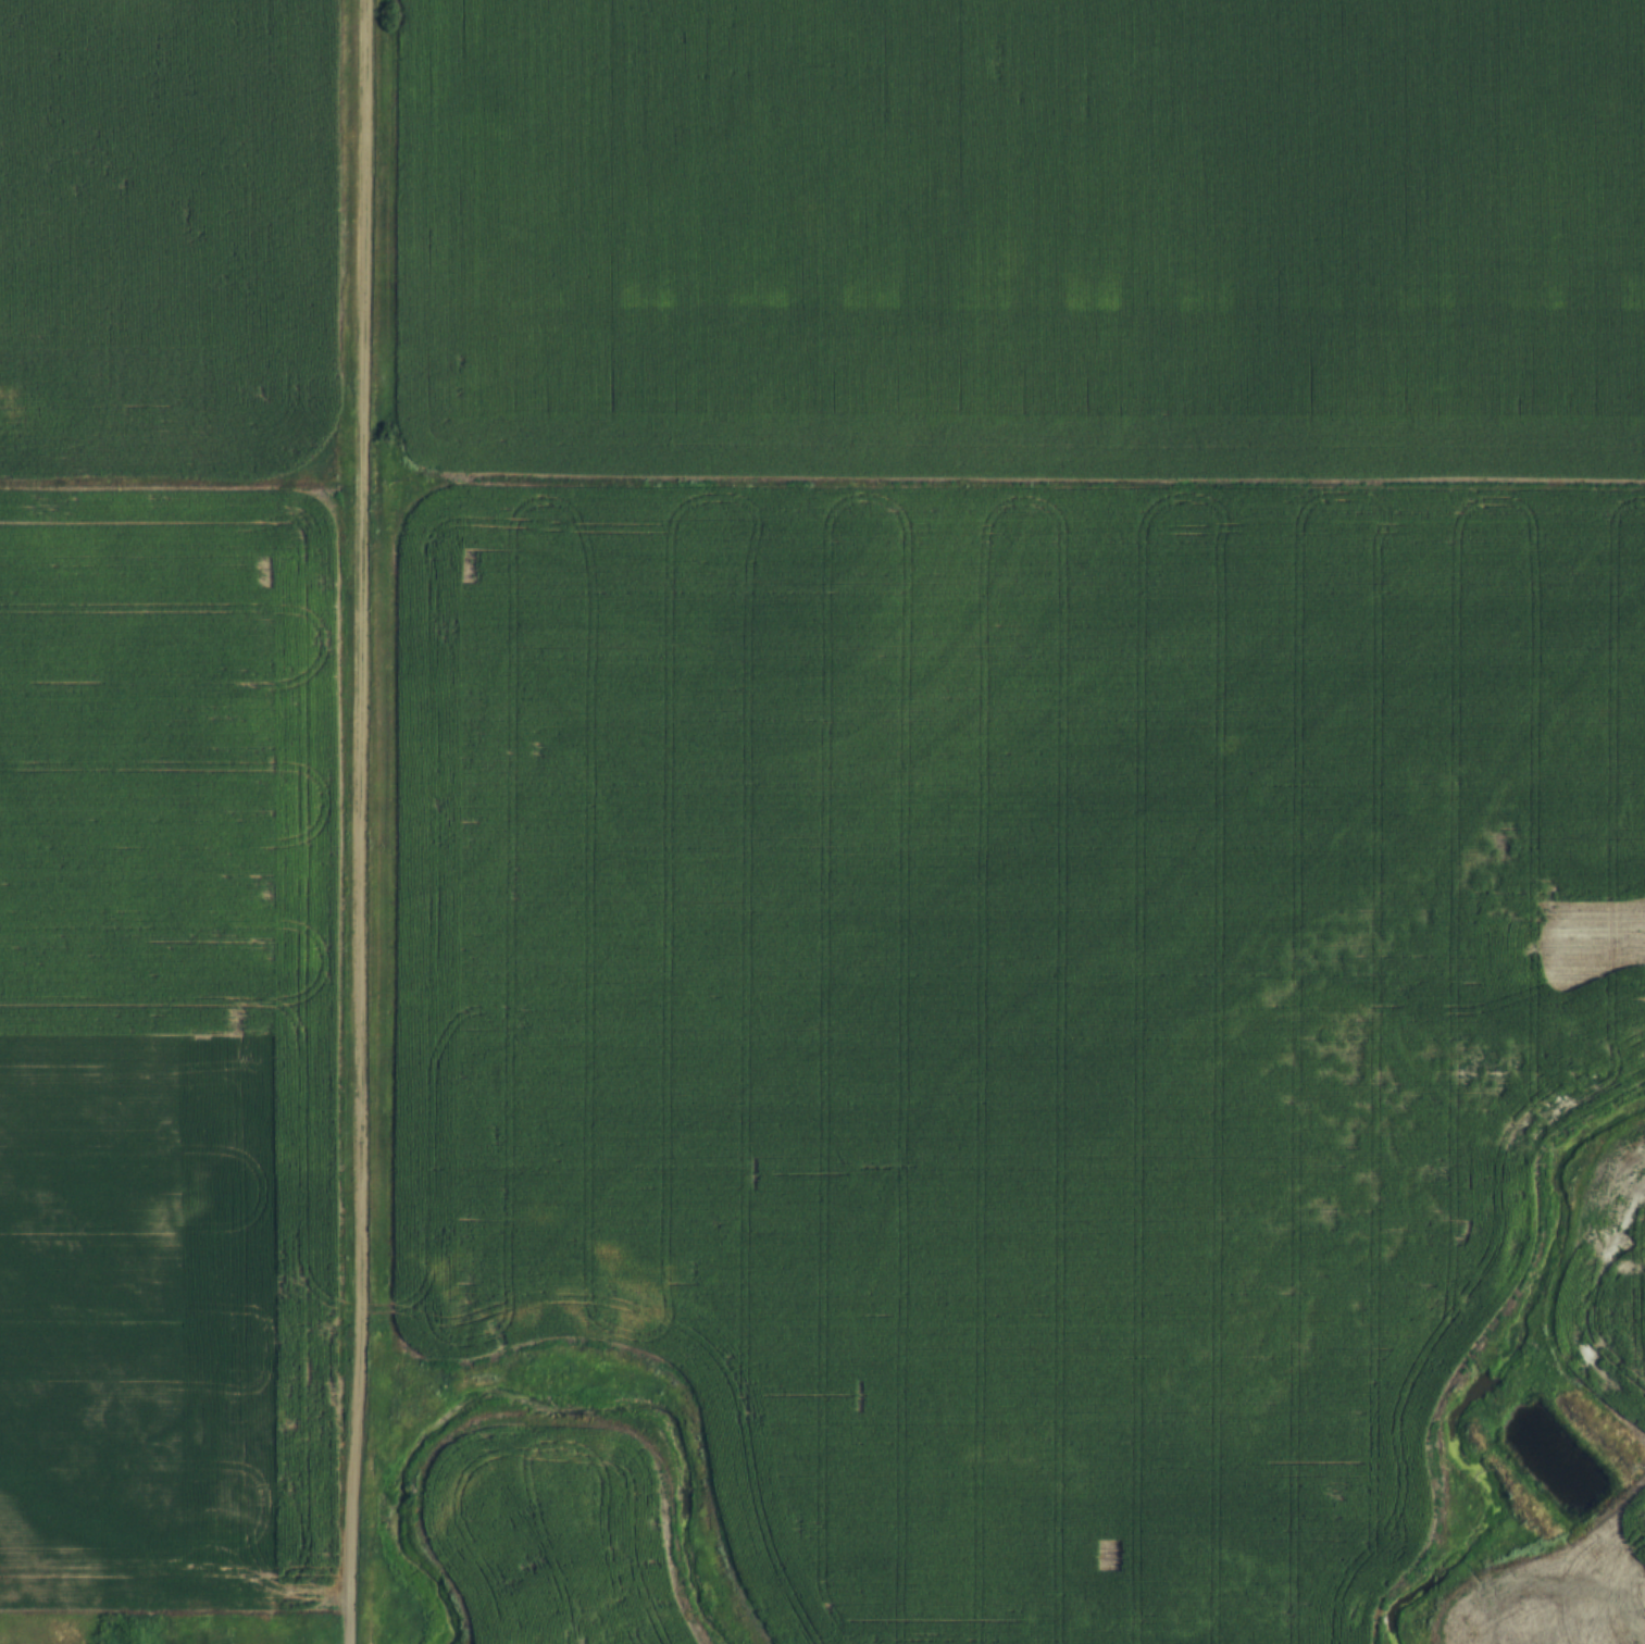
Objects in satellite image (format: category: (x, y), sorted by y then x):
crop: (166, 235)
road: (365, 822)
crop: (167, 1047)

